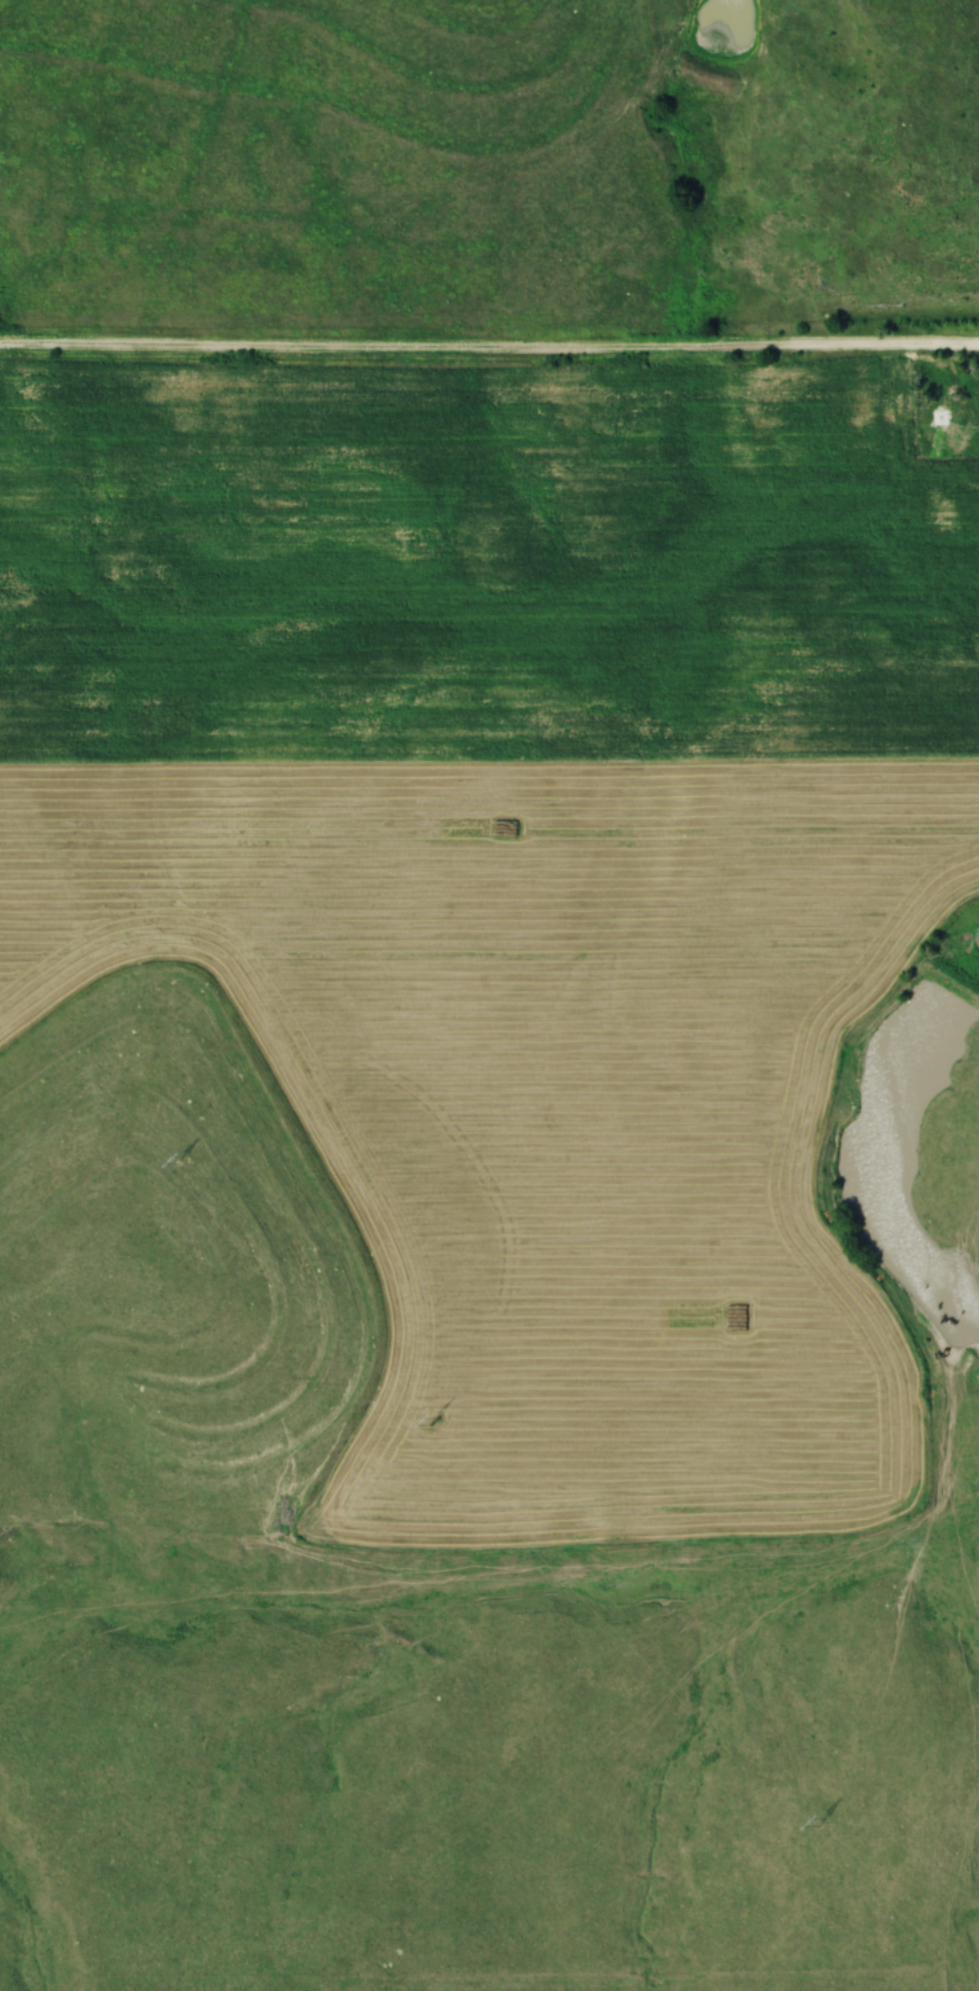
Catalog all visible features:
road: (489, 344)
power tower: (180, 1161)
power tower: (434, 1421)
power tower: (823, 1823)

